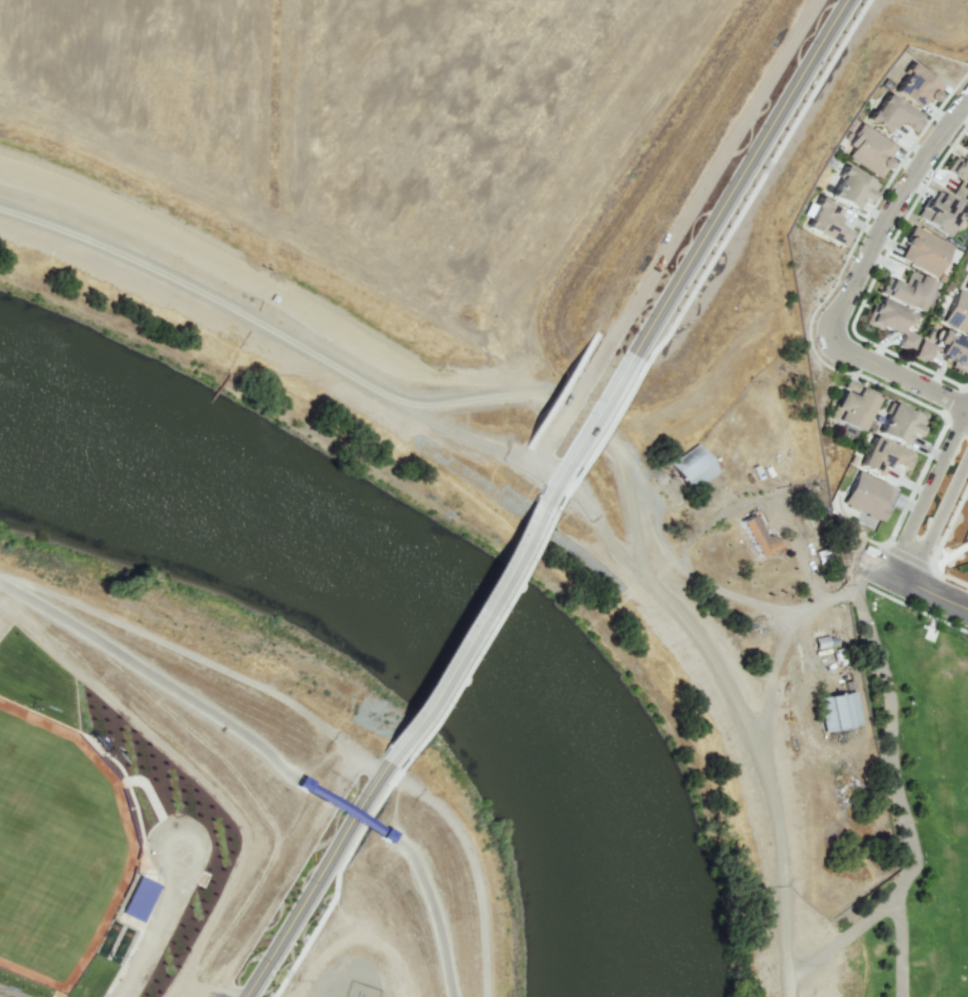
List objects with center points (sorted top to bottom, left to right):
building: (915, 86)
building: (891, 114)
building: (965, 145)
building: (869, 150)
building: (959, 179)
building: (851, 188)
road: (890, 212)
building: (938, 212)
building: (826, 222)
road: (709, 242)
building: (923, 251)
building: (966, 286)
building: (908, 290)
building: (957, 312)
building: (891, 320)
crop: (506, 346)
building: (923, 350)
building: (953, 350)
road: (895, 376)
building: (852, 404)
road: (439, 406)
building: (899, 423)
building: (883, 455)
building: (692, 466)
building: (867, 495)
road: (932, 504)
building: (756, 536)
road: (916, 586)
road: (472, 623)
road: (788, 626)
river: (394, 629)
road: (150, 675)
building: (837, 710)
park: (932, 790)
road: (898, 806)
road: (343, 809)
park: (55, 850)
road: (786, 873)
road: (475, 879)
road: (323, 882)
building: (138, 898)
road: (431, 913)
road: (898, 948)

